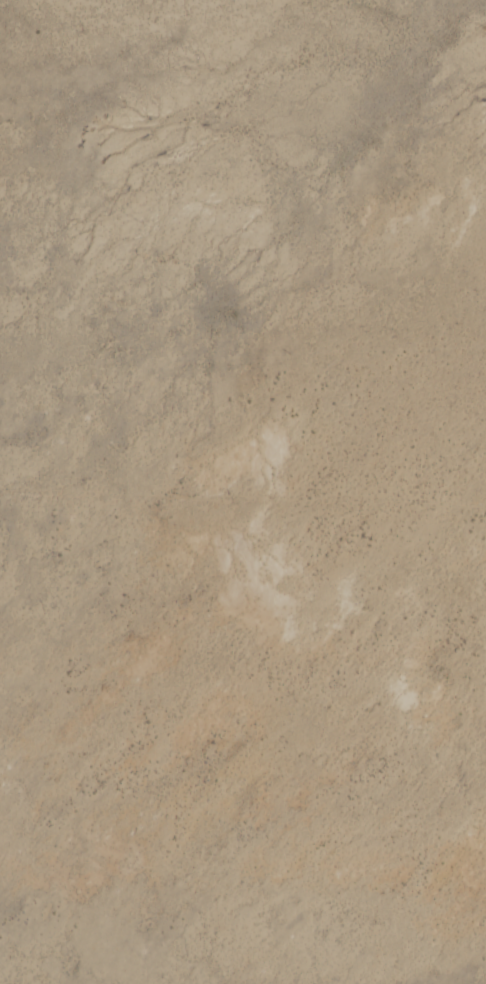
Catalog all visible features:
road: (242, 871)

